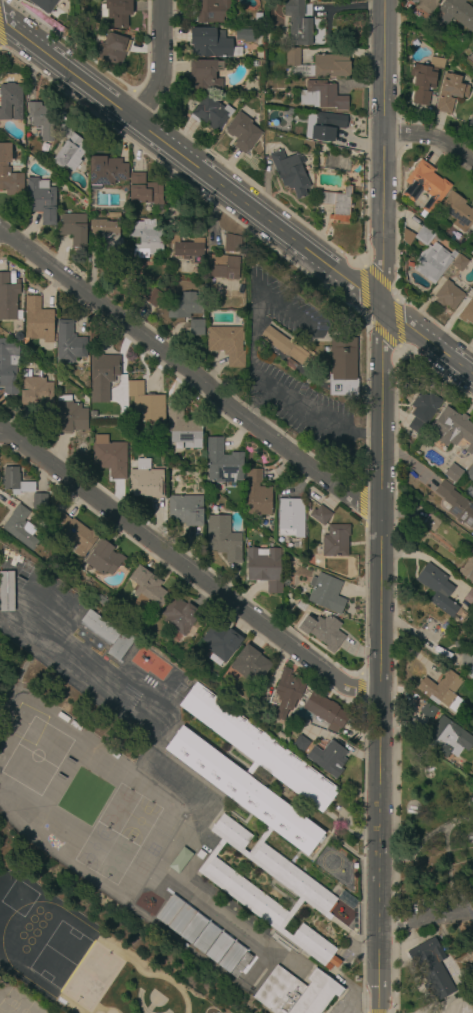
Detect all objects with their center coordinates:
building: (44, 5)
building: (425, 5)
building: (211, 10)
building: (117, 12)
building: (457, 13)
building: (297, 23)
building: (436, 25)
building: (472, 38)
building: (210, 42)
building: (111, 49)
building: (292, 57)
road: (163, 62)
building: (328, 68)
building: (205, 73)
building: (425, 80)
building: (450, 92)
building: (322, 95)
building: (9, 99)
building: (211, 113)
building: (41, 120)
building: (470, 122)
building: (322, 127)
building: (242, 132)
road: (433, 142)
building: (44, 149)
building: (68, 149)
building: (106, 171)
building: (9, 173)
building: (291, 173)
building: (425, 186)
building: (144, 192)
road: (237, 193)
building: (41, 200)
building: (337, 204)
building: (457, 211)
building: (112, 214)
building: (73, 229)
road: (386, 233)
building: (107, 234)
building: (147, 238)
building: (231, 243)
building: (472, 243)
building: (186, 247)
building: (431, 257)
building: (459, 263)
building: (223, 267)
road: (379, 277)
road: (363, 291)
building: (448, 295)
building: (9, 297)
building: (153, 297)
building: (184, 305)
building: (466, 312)
building: (37, 320)
road: (399, 324)
building: (196, 328)
road: (382, 335)
building: (68, 344)
building: (227, 344)
building: (287, 346)
building: (290, 364)
building: (8, 366)
building: (343, 367)
building: (103, 375)
road: (191, 376)
building: (35, 389)
building: (145, 402)
building: (425, 404)
building: (69, 415)
road: (320, 423)
building: (416, 424)
building: (183, 429)
building: (453, 429)
building: (110, 456)
building: (223, 463)
building: (452, 472)
building: (470, 473)
building: (145, 480)
building: (15, 481)
building: (257, 494)
road: (385, 494)
road: (362, 499)
building: (40, 501)
building: (456, 503)
building: (307, 505)
building: (185, 510)
building: (320, 514)
building: (291, 517)
building: (431, 523)
building: (21, 527)
building: (74, 534)
building: (222, 539)
building: (336, 540)
building: (103, 558)
building: (264, 568)
road: (384, 568)
building: (468, 569)
road: (188, 571)
building: (286, 583)
building: (436, 588)
building: (147, 590)
building: (5, 591)
building: (326, 593)
building: (468, 596)
building: (179, 615)
building: (323, 632)
building: (108, 635)
road: (419, 638)
building: (220, 641)
road: (383, 654)
building: (467, 662)
building: (250, 665)
building: (442, 690)
road: (361, 692)
building: (286, 693)
building: (428, 710)
building: (325, 711)
building: (447, 738)
building: (300, 742)
building: (328, 759)
park: (117, 808)
building: (258, 815)
park: (138, 821)
park: (94, 846)
road: (431, 848)
road: (382, 852)
building: (200, 854)
park: (115, 859)
road: (448, 869)
park: (433, 887)
parking lot: (433, 910)
road: (436, 910)
road: (393, 916)
building: (179, 918)
road: (456, 922)
road: (470, 931)
building: (204, 937)
building: (217, 947)
building: (233, 959)
building: (218, 967)
building: (431, 968)
road: (466, 971)
building: (232, 978)
building: (296, 992)
road: (360, 1000)
road: (346, 1006)
parking lot: (341, 1008)
building: (215, 1009)

